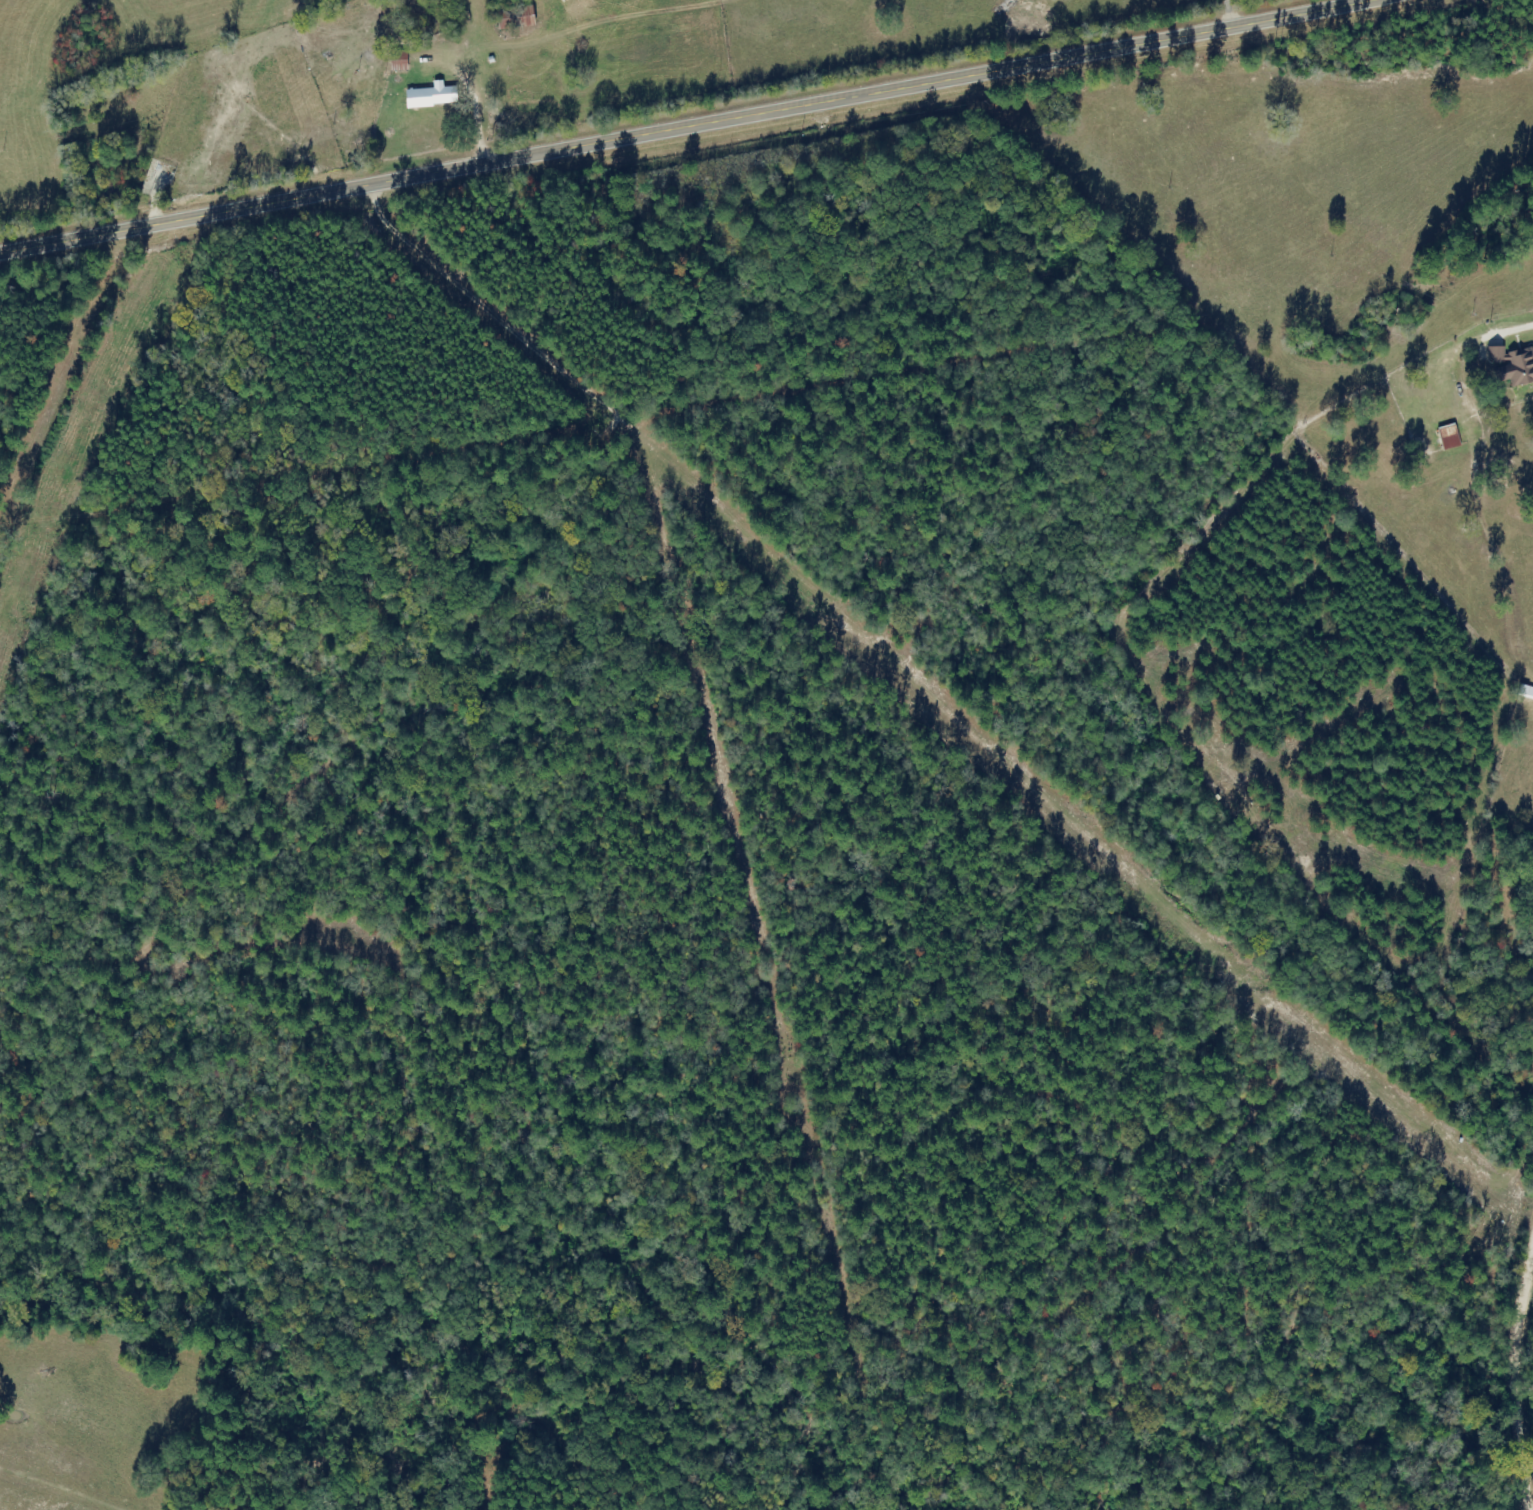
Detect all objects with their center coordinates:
building: (436, 96)
road: (690, 126)
building: (1513, 366)
building: (1452, 436)
road: (1502, 1368)

